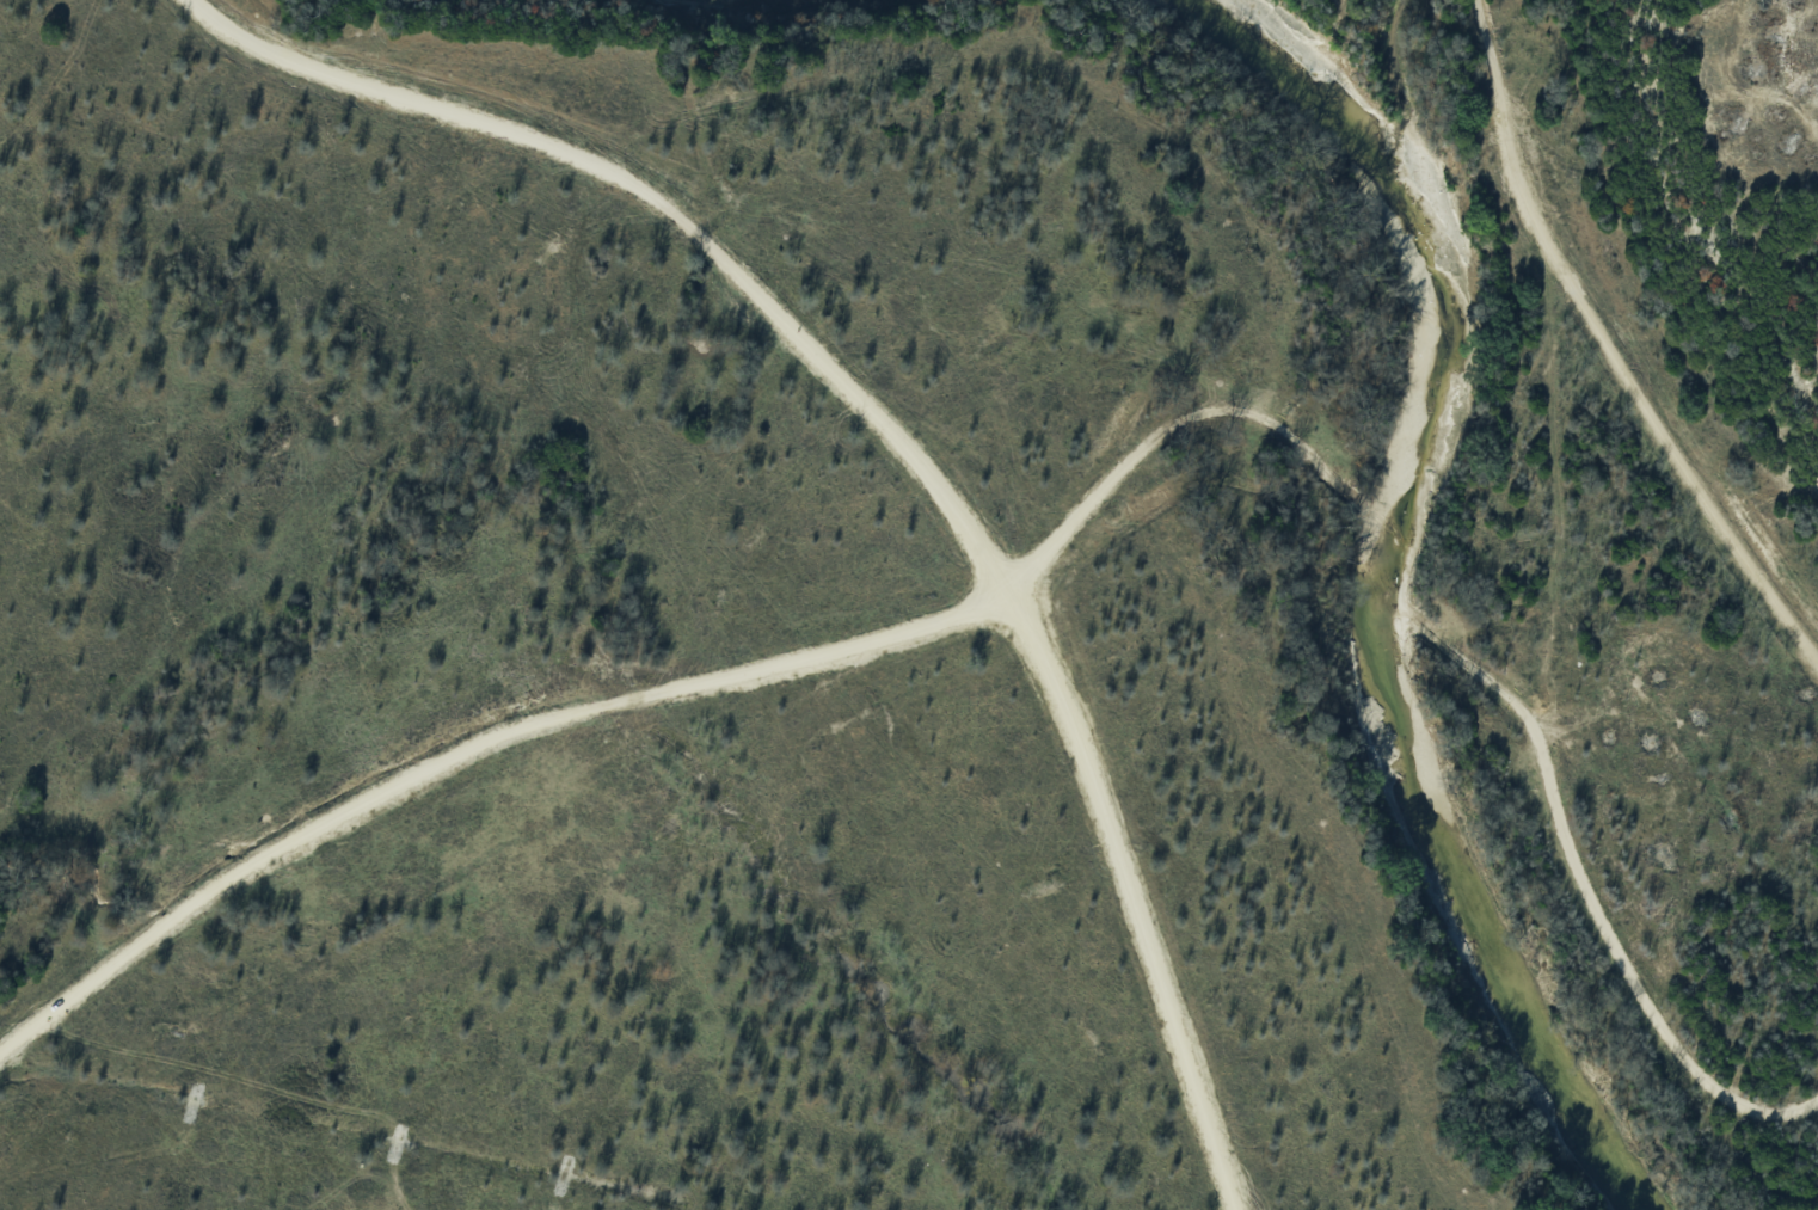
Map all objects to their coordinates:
road: (1609, 348)
road: (907, 431)
road: (1062, 536)
river: (1377, 590)

